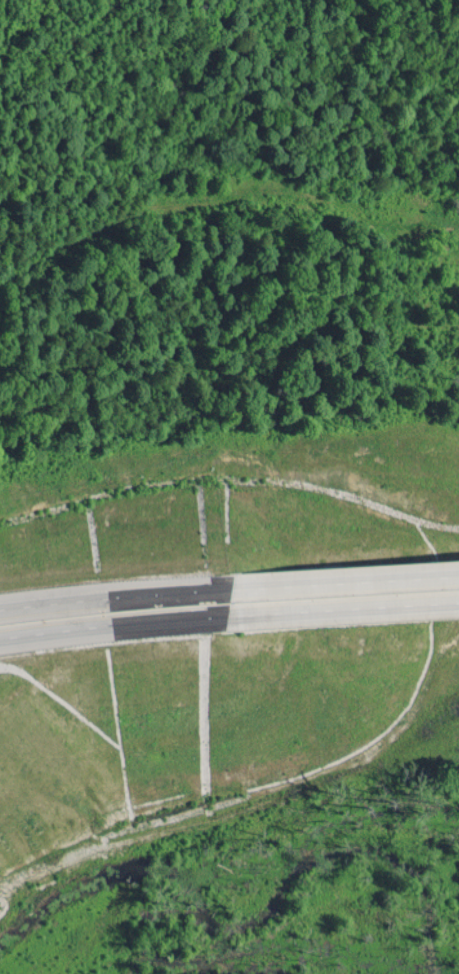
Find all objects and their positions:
road: (325, 584)
road: (95, 599)
road: (323, 611)
road: (93, 626)
road: (37, 886)

